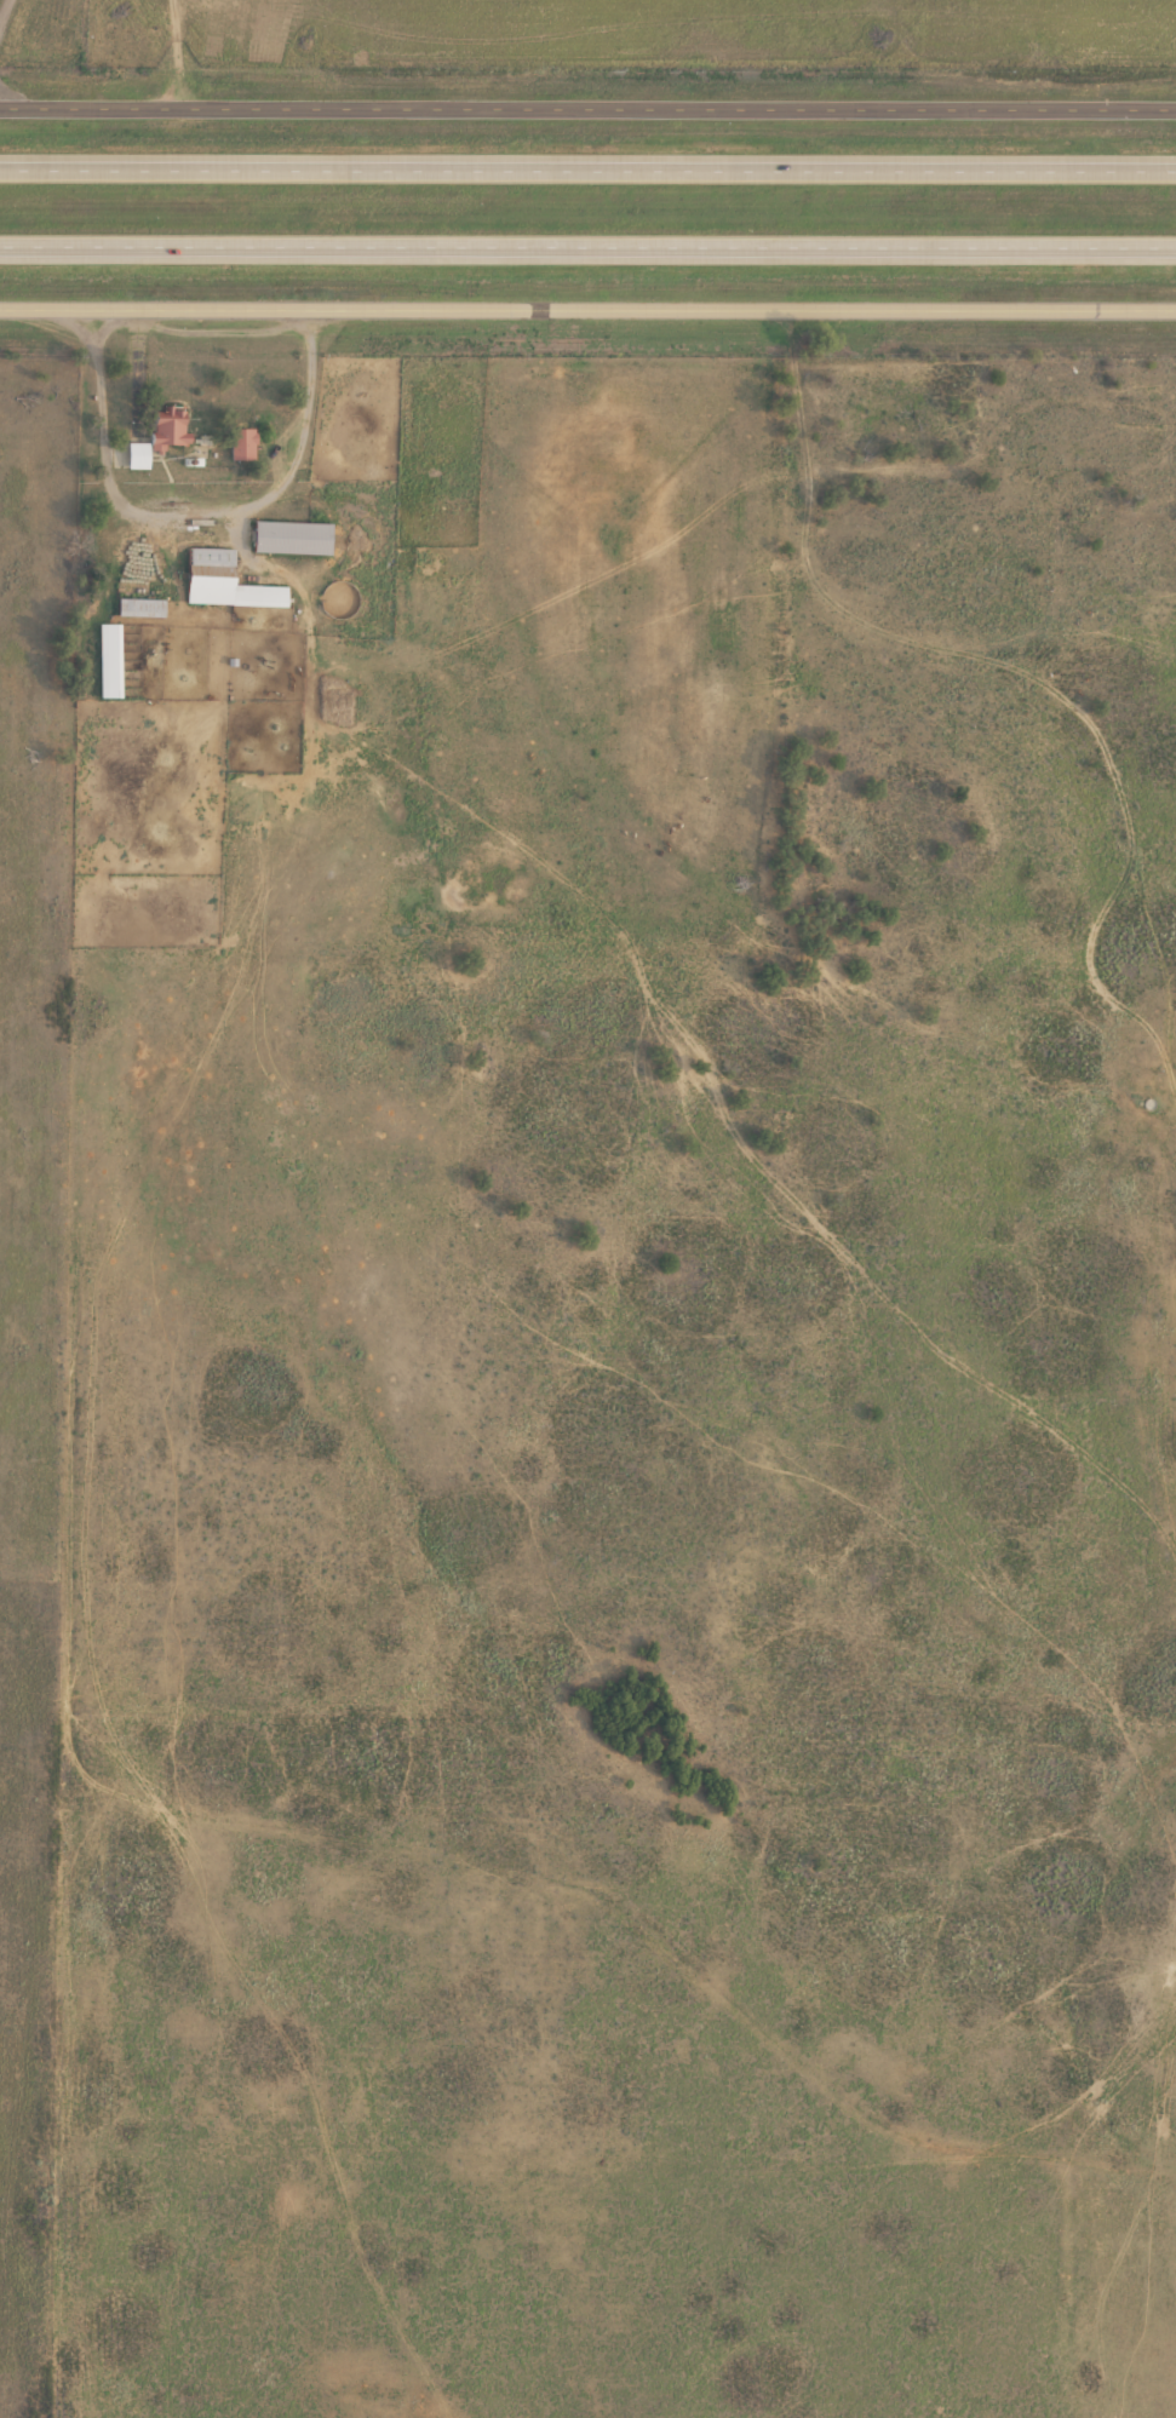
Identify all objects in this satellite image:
road: (5, 13)
airport: (44, 33)
road: (587, 107)
road: (587, 166)
road: (587, 245)
road: (56, 306)
road: (644, 306)
building: (167, 437)
building: (249, 443)
building: (298, 538)
building: (231, 582)
building: (147, 608)
building: (115, 660)
road: (105, 1059)
road: (620, 1914)

